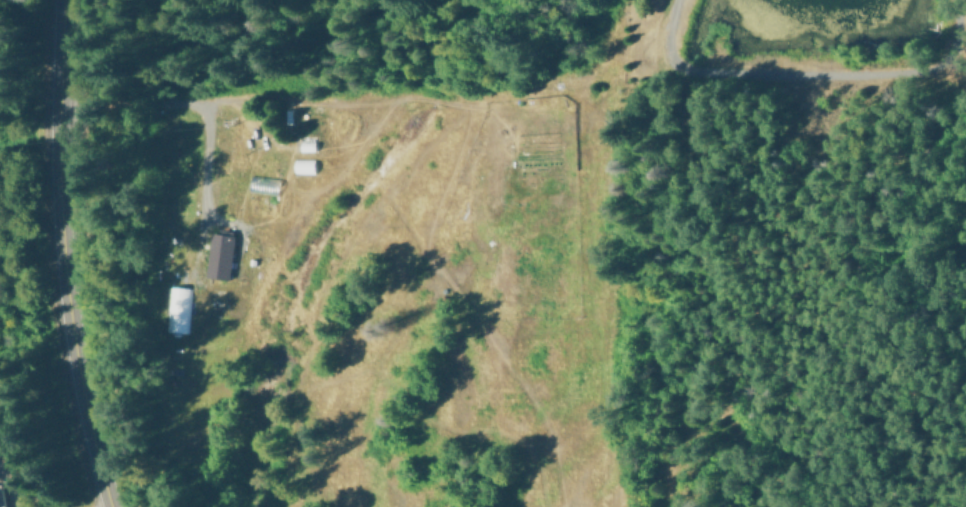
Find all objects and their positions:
building: (303, 165)
building: (218, 255)
road: (63, 256)
building: (177, 308)

